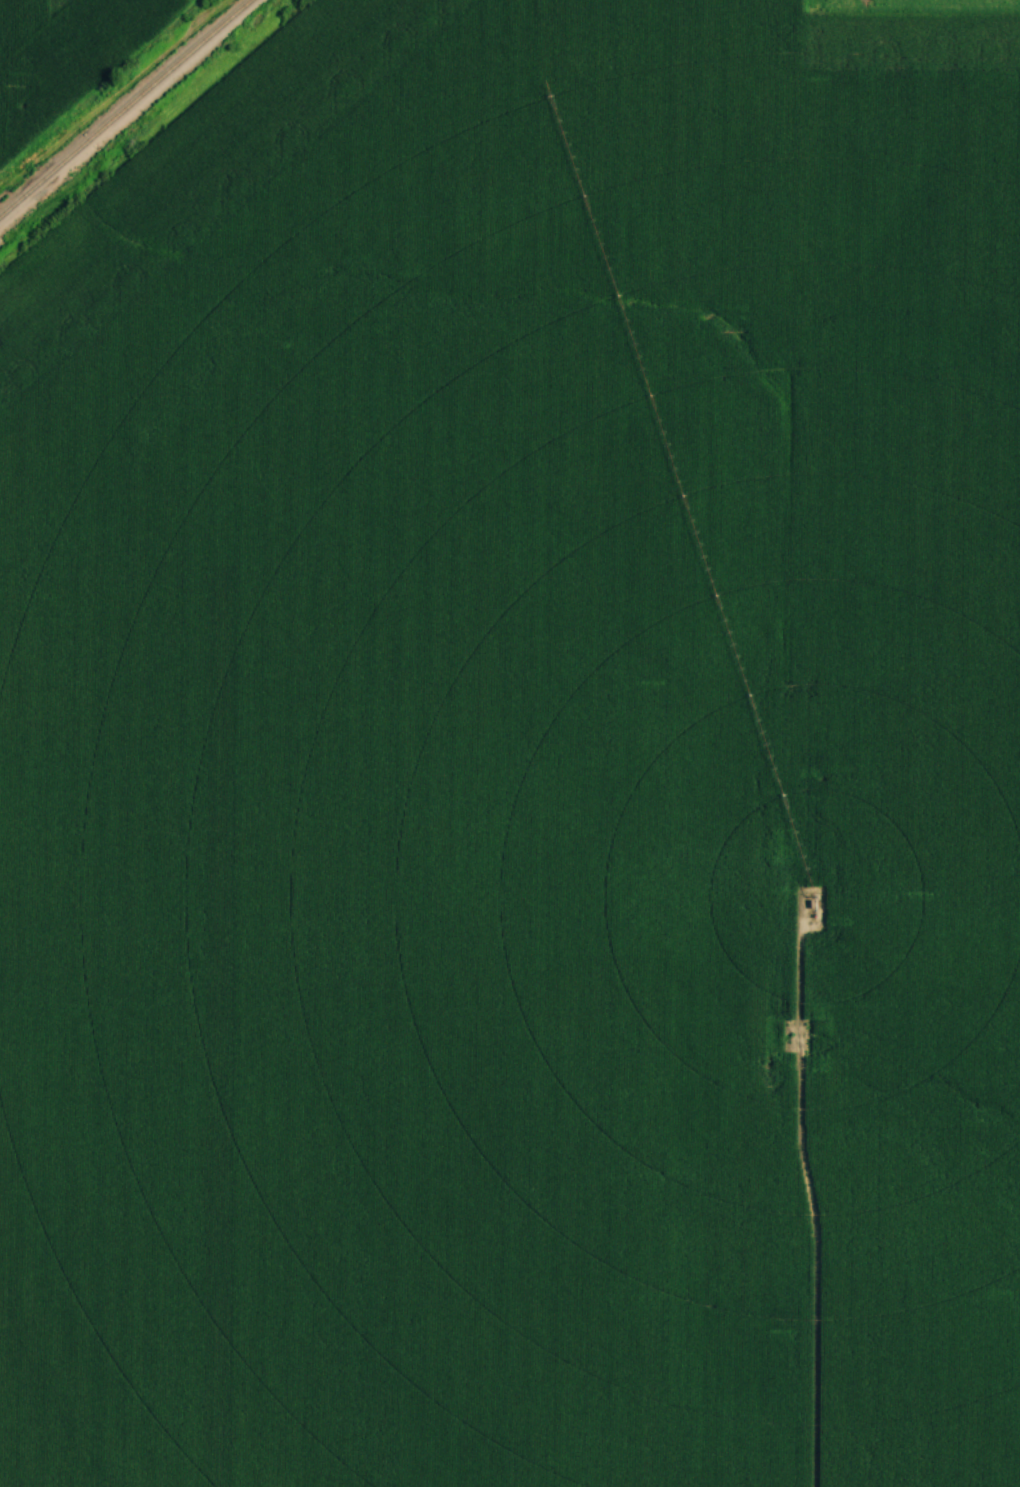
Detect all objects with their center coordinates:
crop: (941, 6)
crop: (62, 54)
railway: (125, 108)
crop: (519, 762)
road: (794, 1212)

